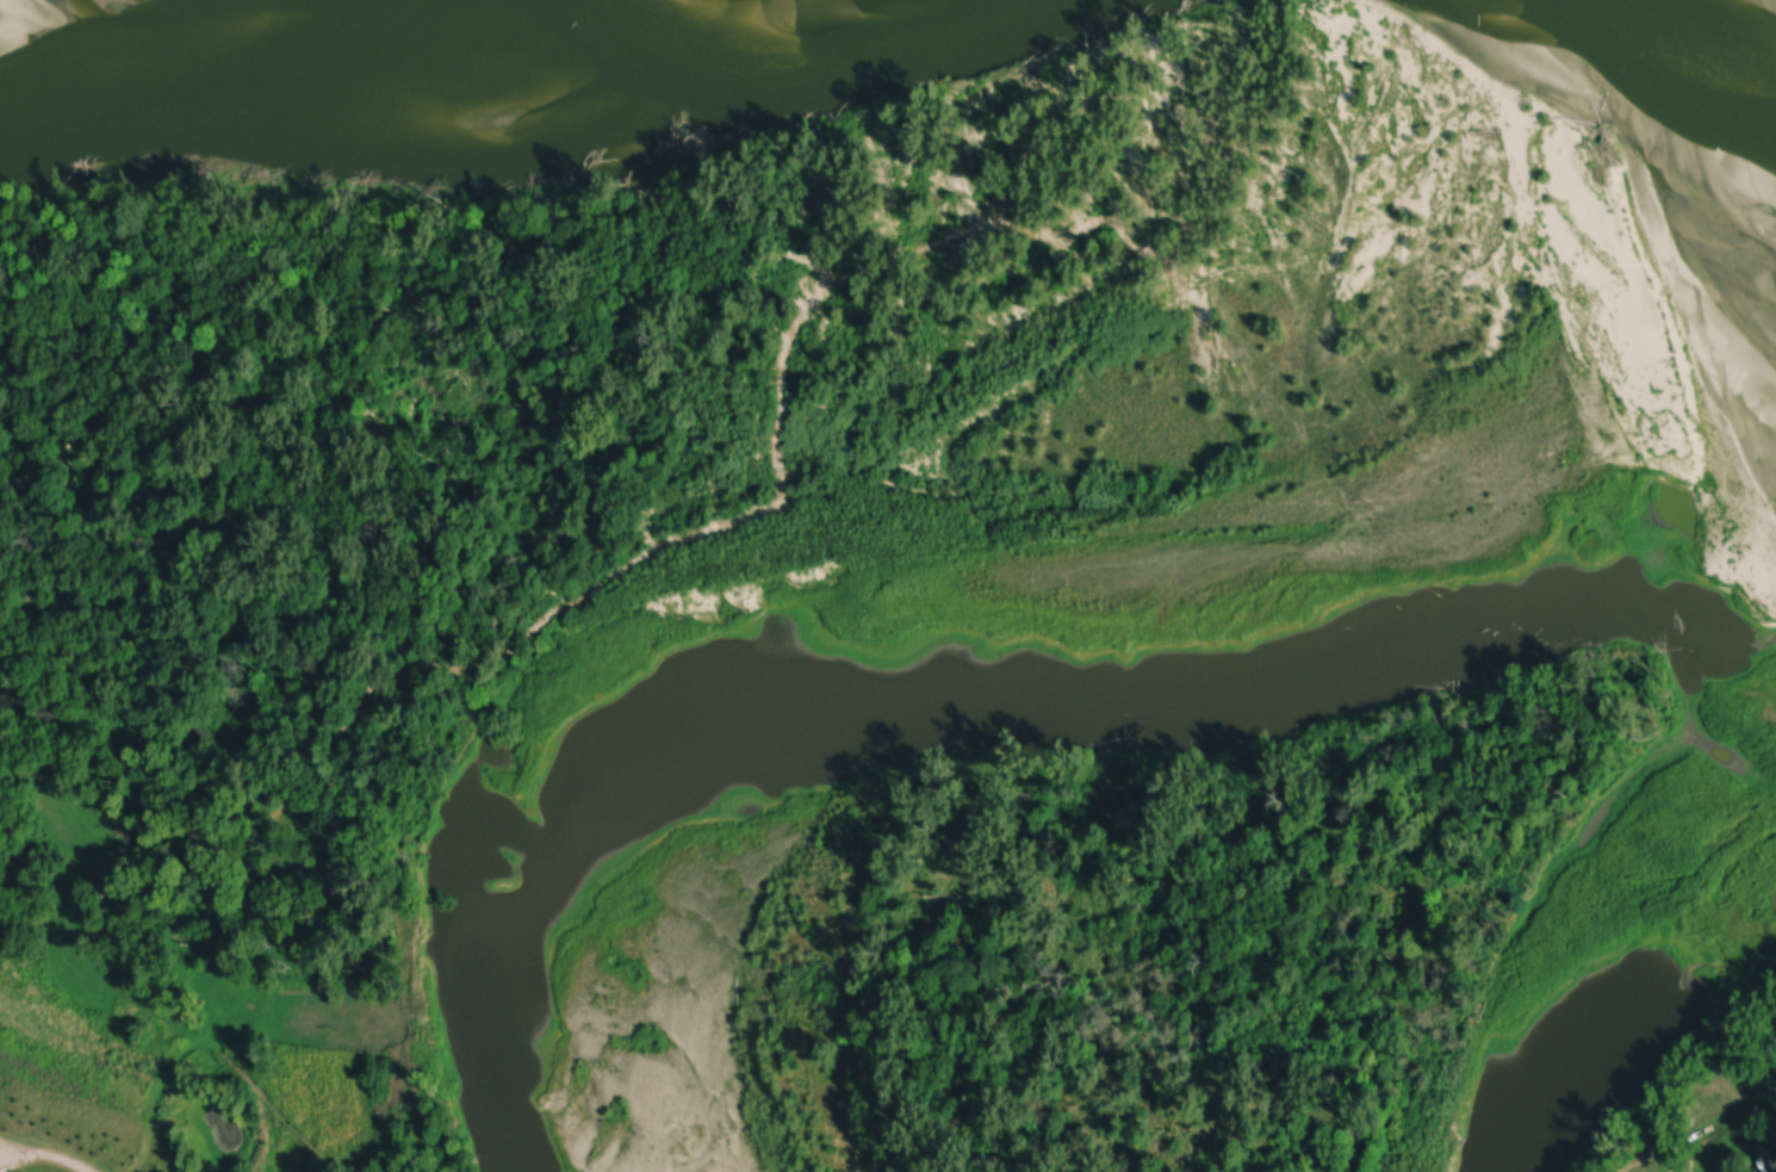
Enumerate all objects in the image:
river: (905, 531)
river: (1616, 994)
road: (138, 1140)
road: (1633, 1164)
building: (1764, 1166)

